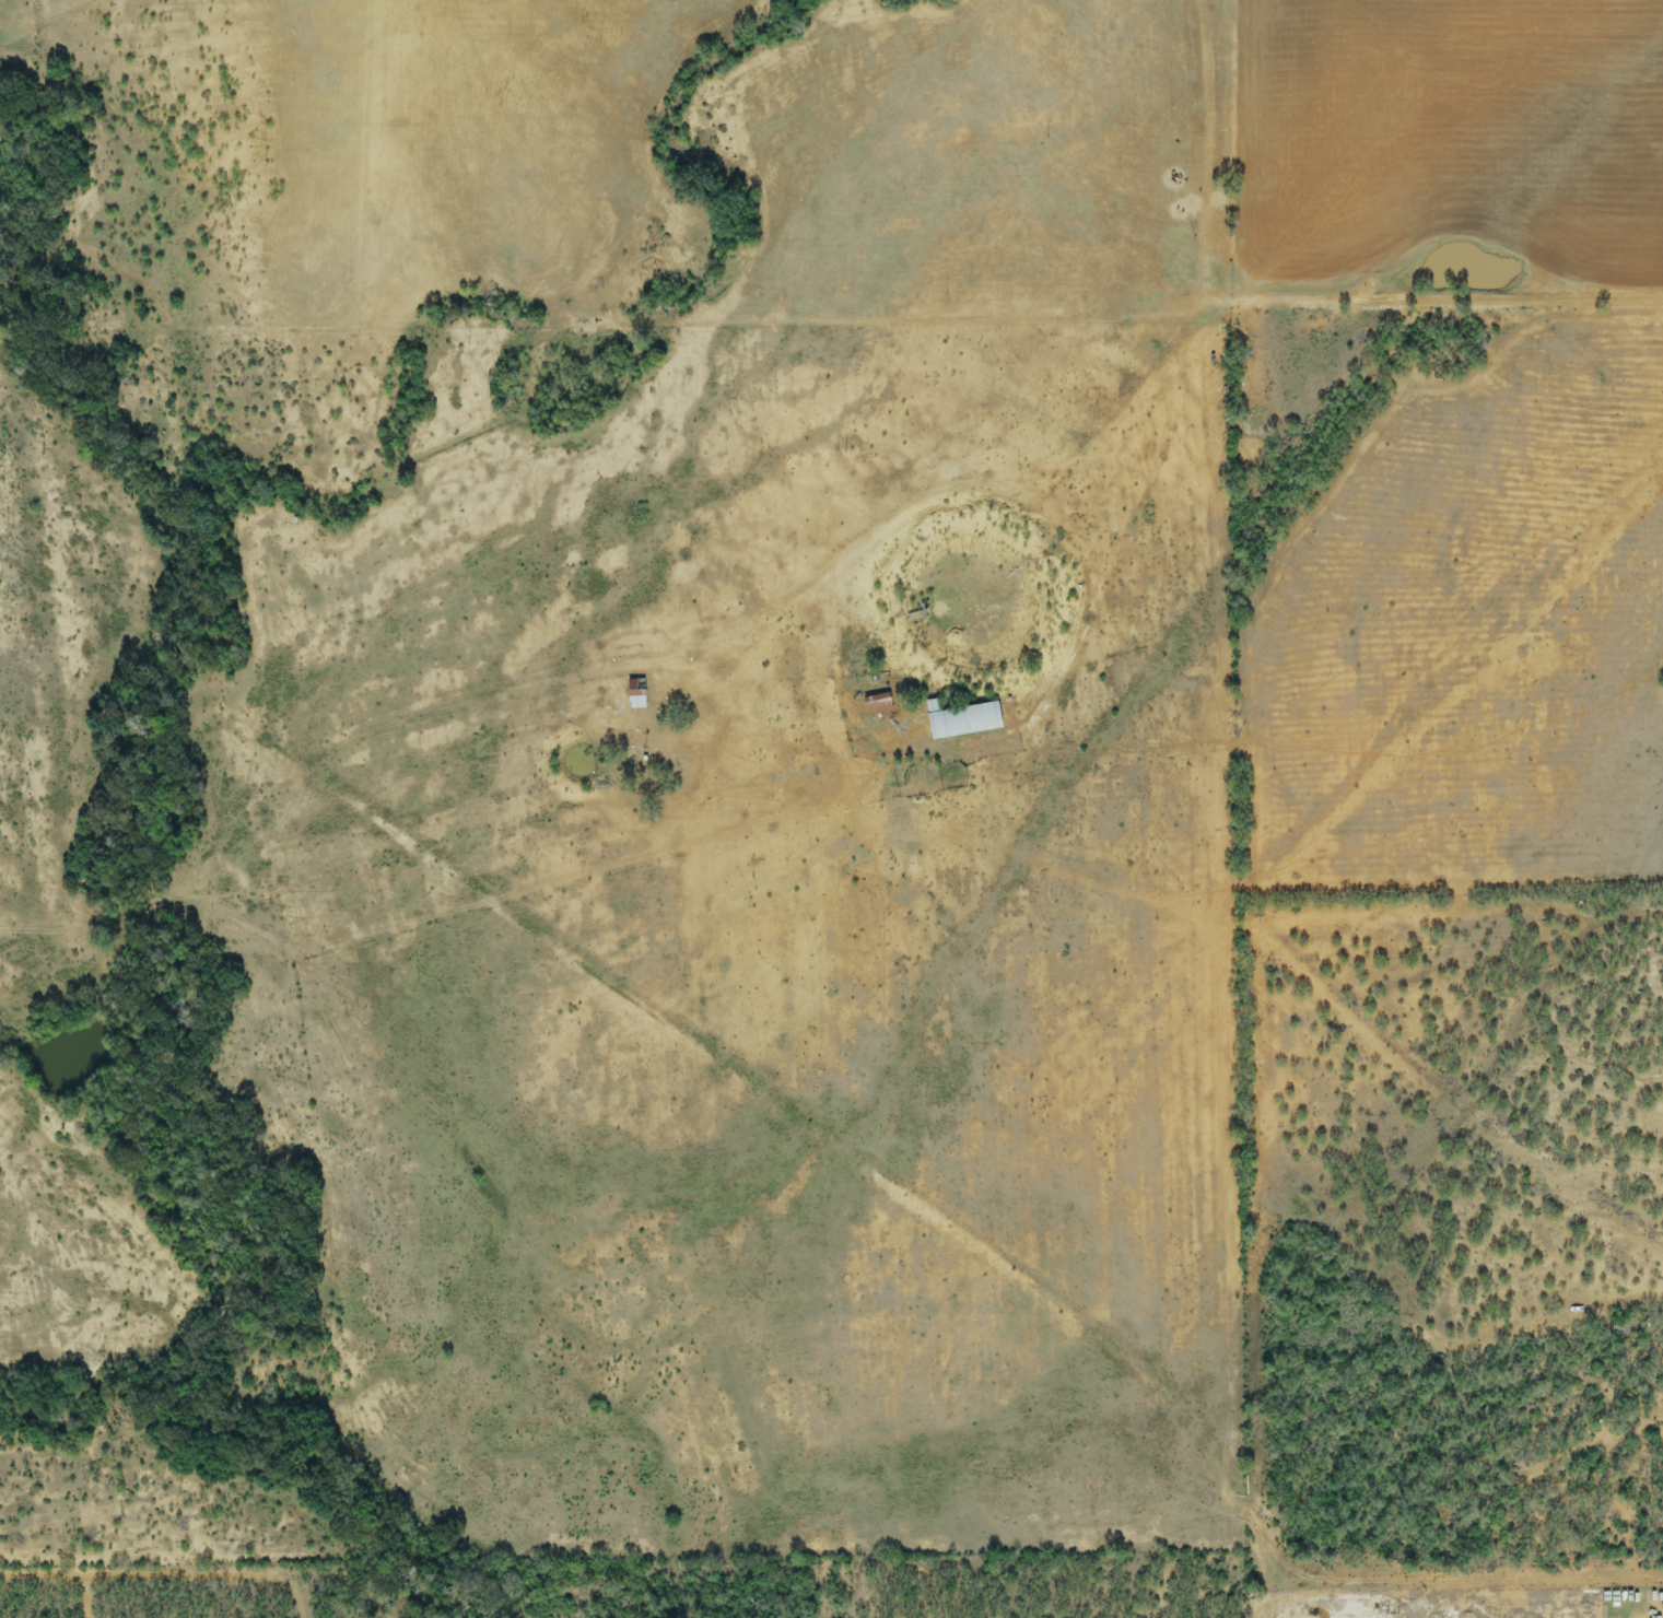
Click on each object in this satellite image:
building: (633, 694)
road: (282, 858)

